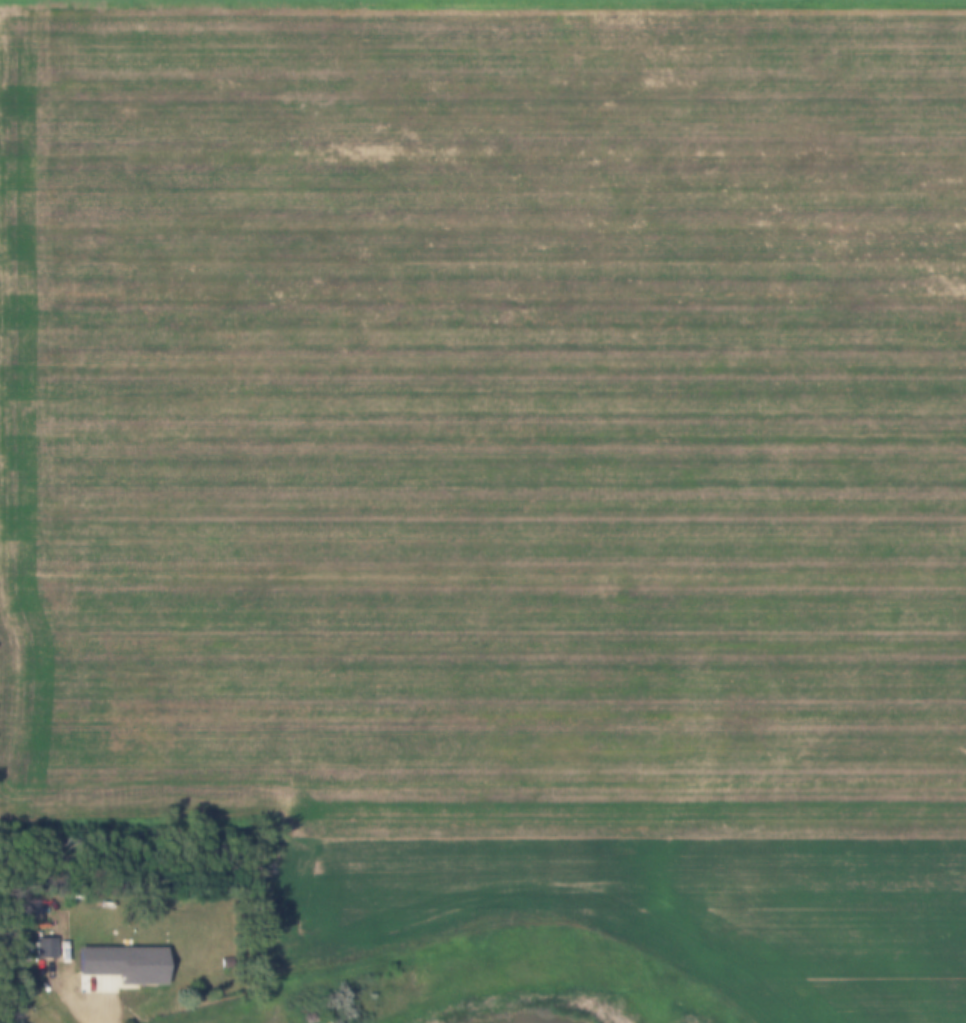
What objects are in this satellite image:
building: (46, 948)
building: (116, 967)
road: (68, 969)

